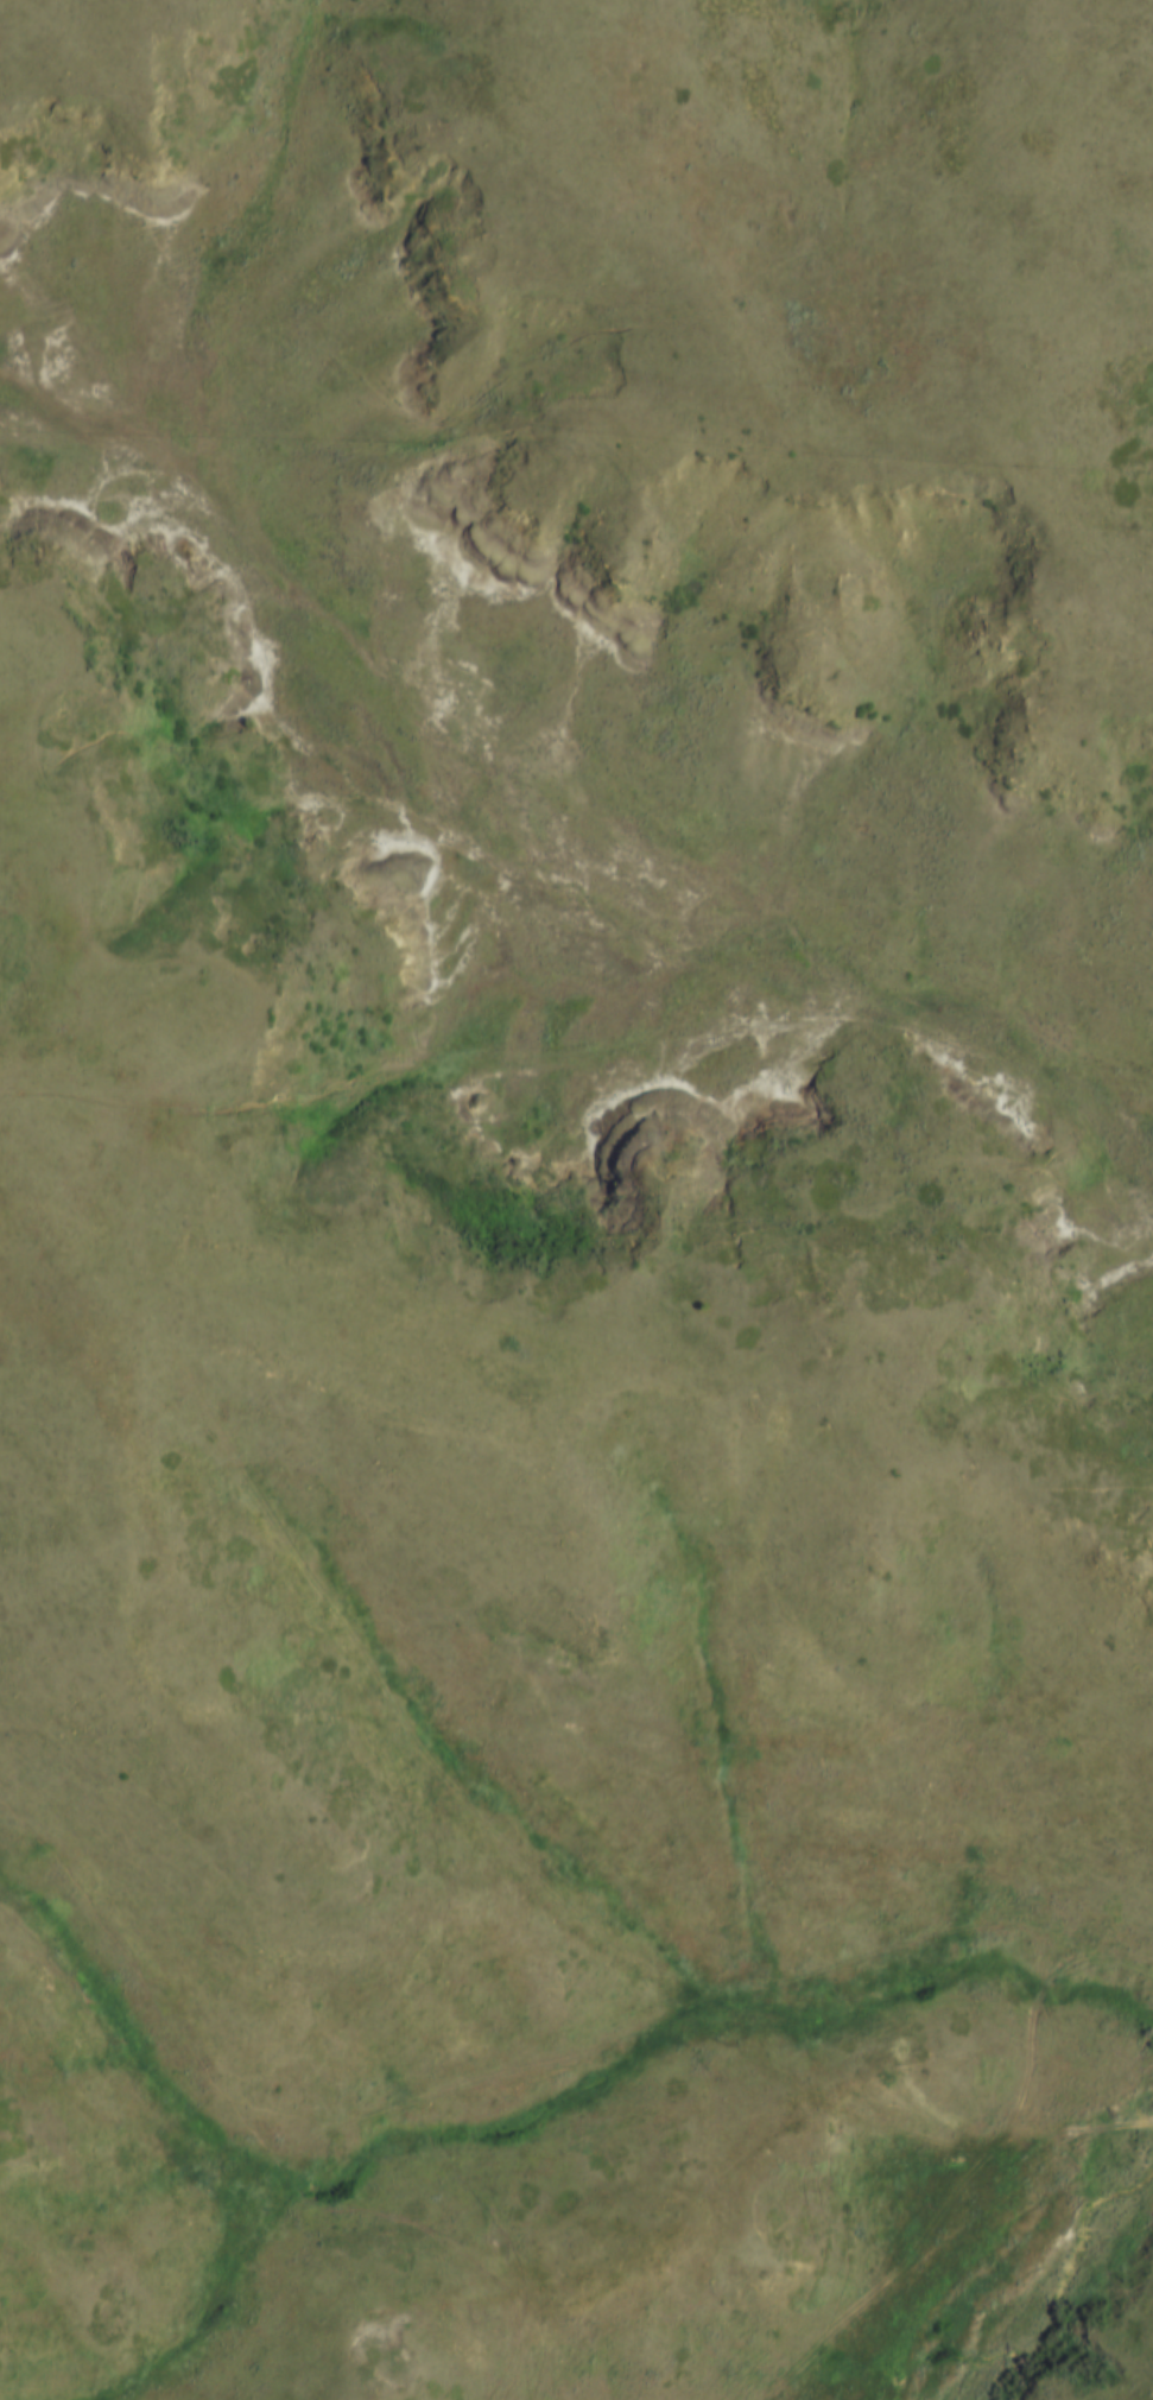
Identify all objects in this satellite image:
road: (937, 2231)

